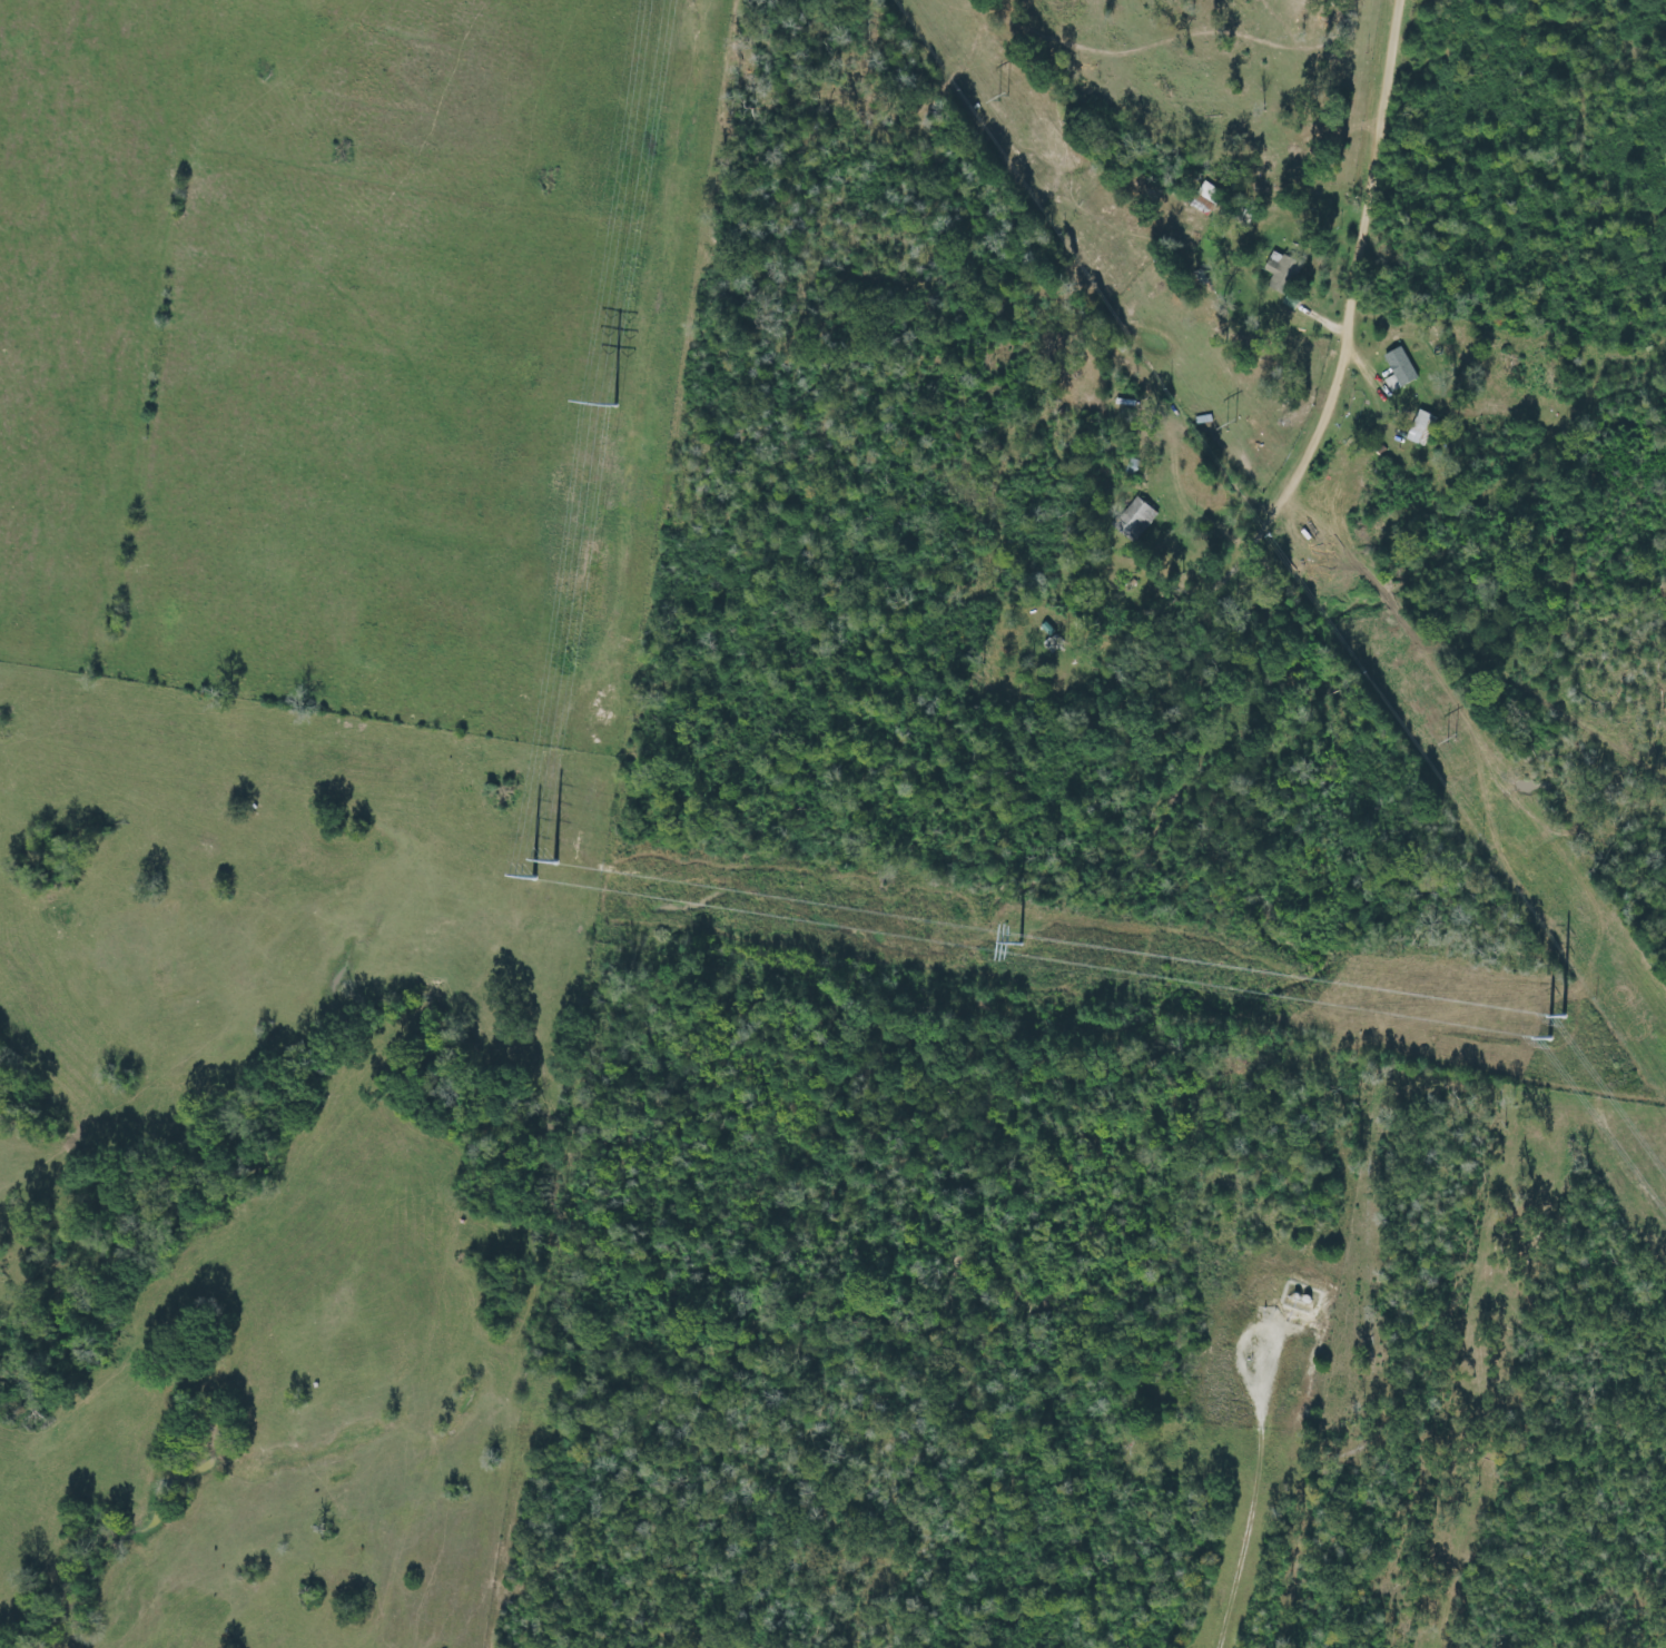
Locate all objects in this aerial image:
power tower: (1002, 105)
road: (1230, 167)
building: (1282, 276)
building: (1399, 371)
power tower: (614, 395)
power tower: (1231, 423)
road: (1282, 506)
building: (1136, 520)
road: (1150, 630)
power tower: (1453, 738)
road: (1292, 756)
power tower: (543, 858)
power tower: (1019, 938)
power tower: (1559, 1020)

